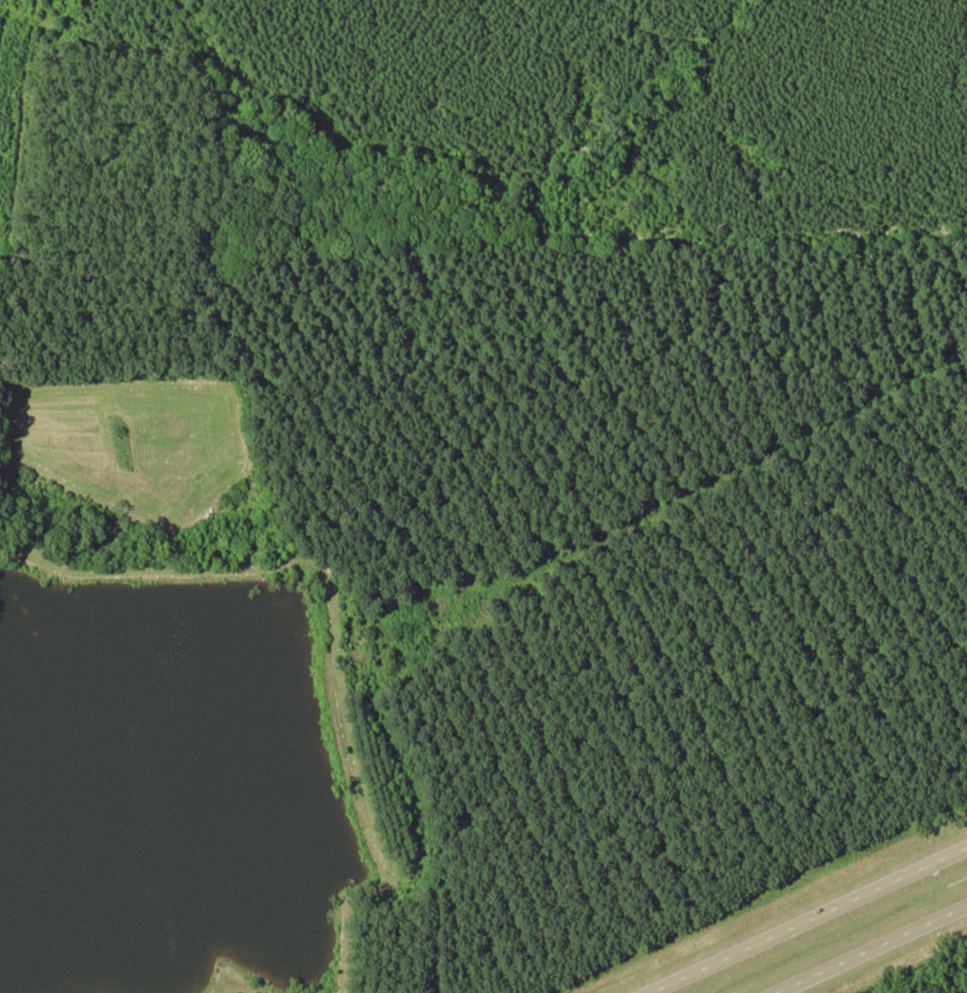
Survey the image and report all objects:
road: (807, 919)
road: (869, 948)

